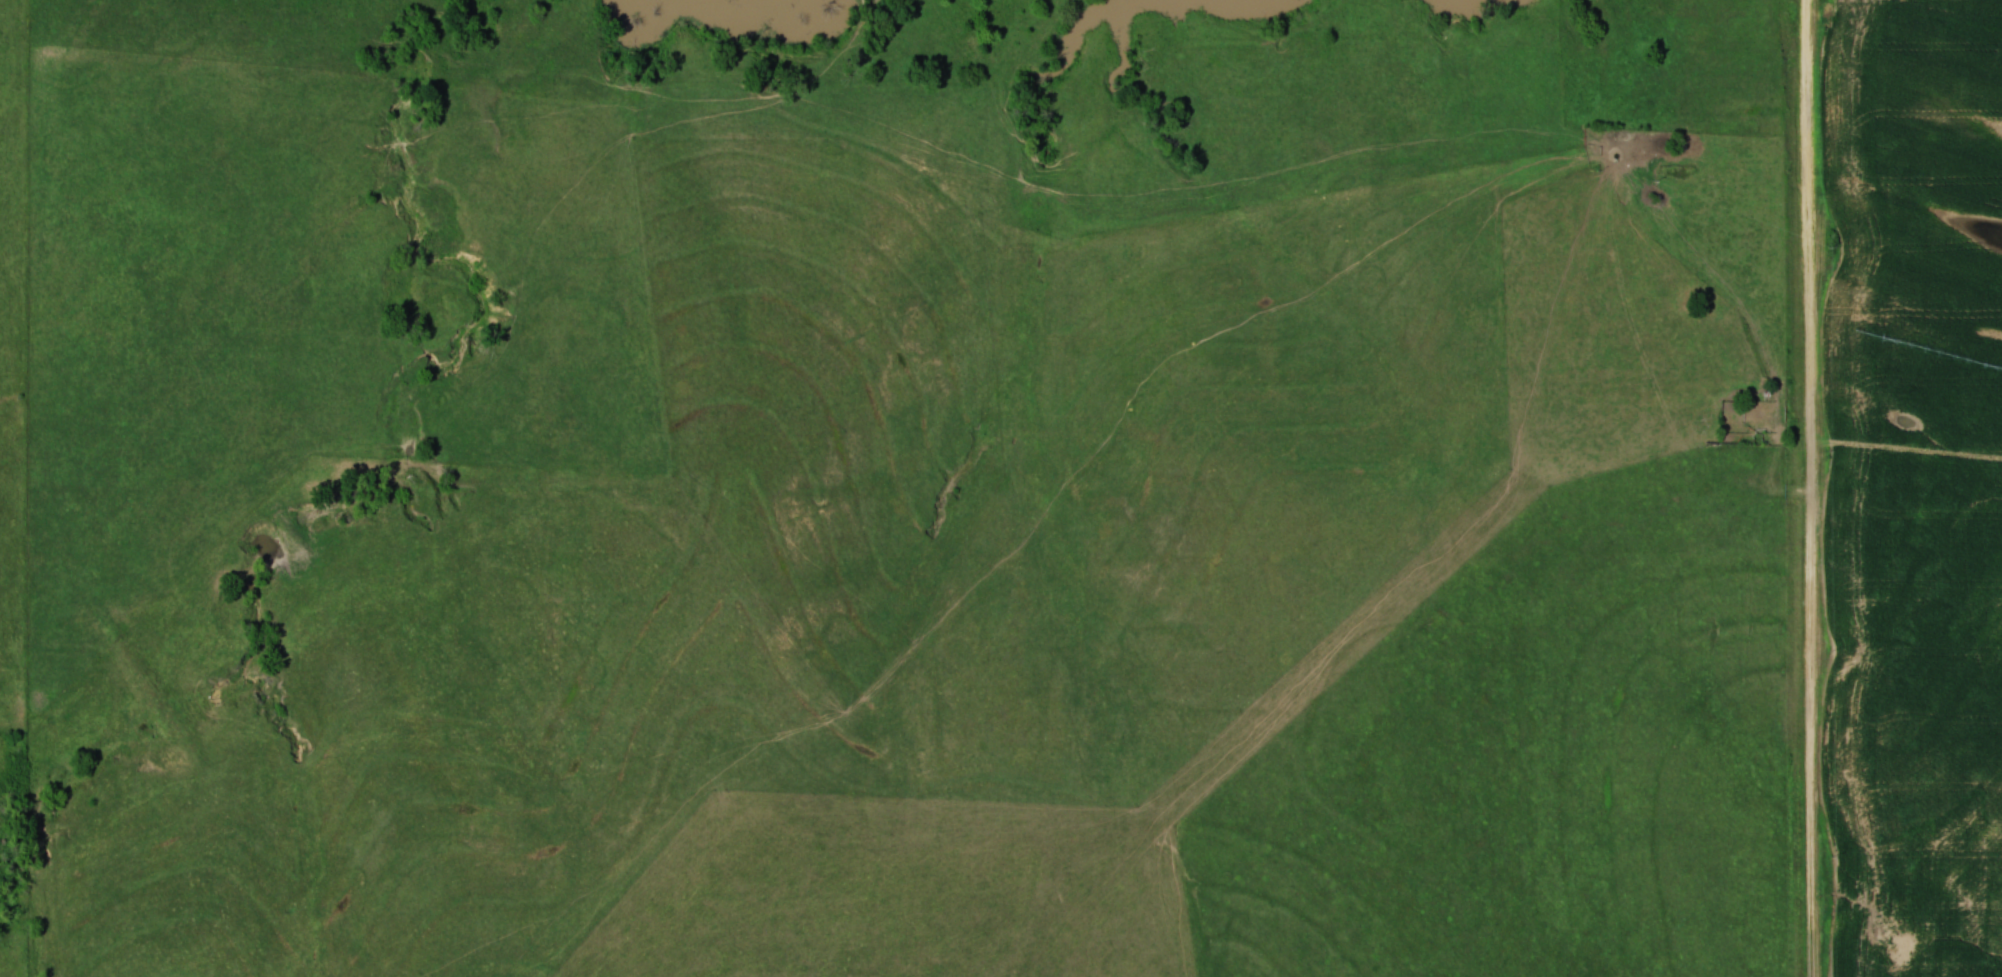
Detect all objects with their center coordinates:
road: (1810, 488)

